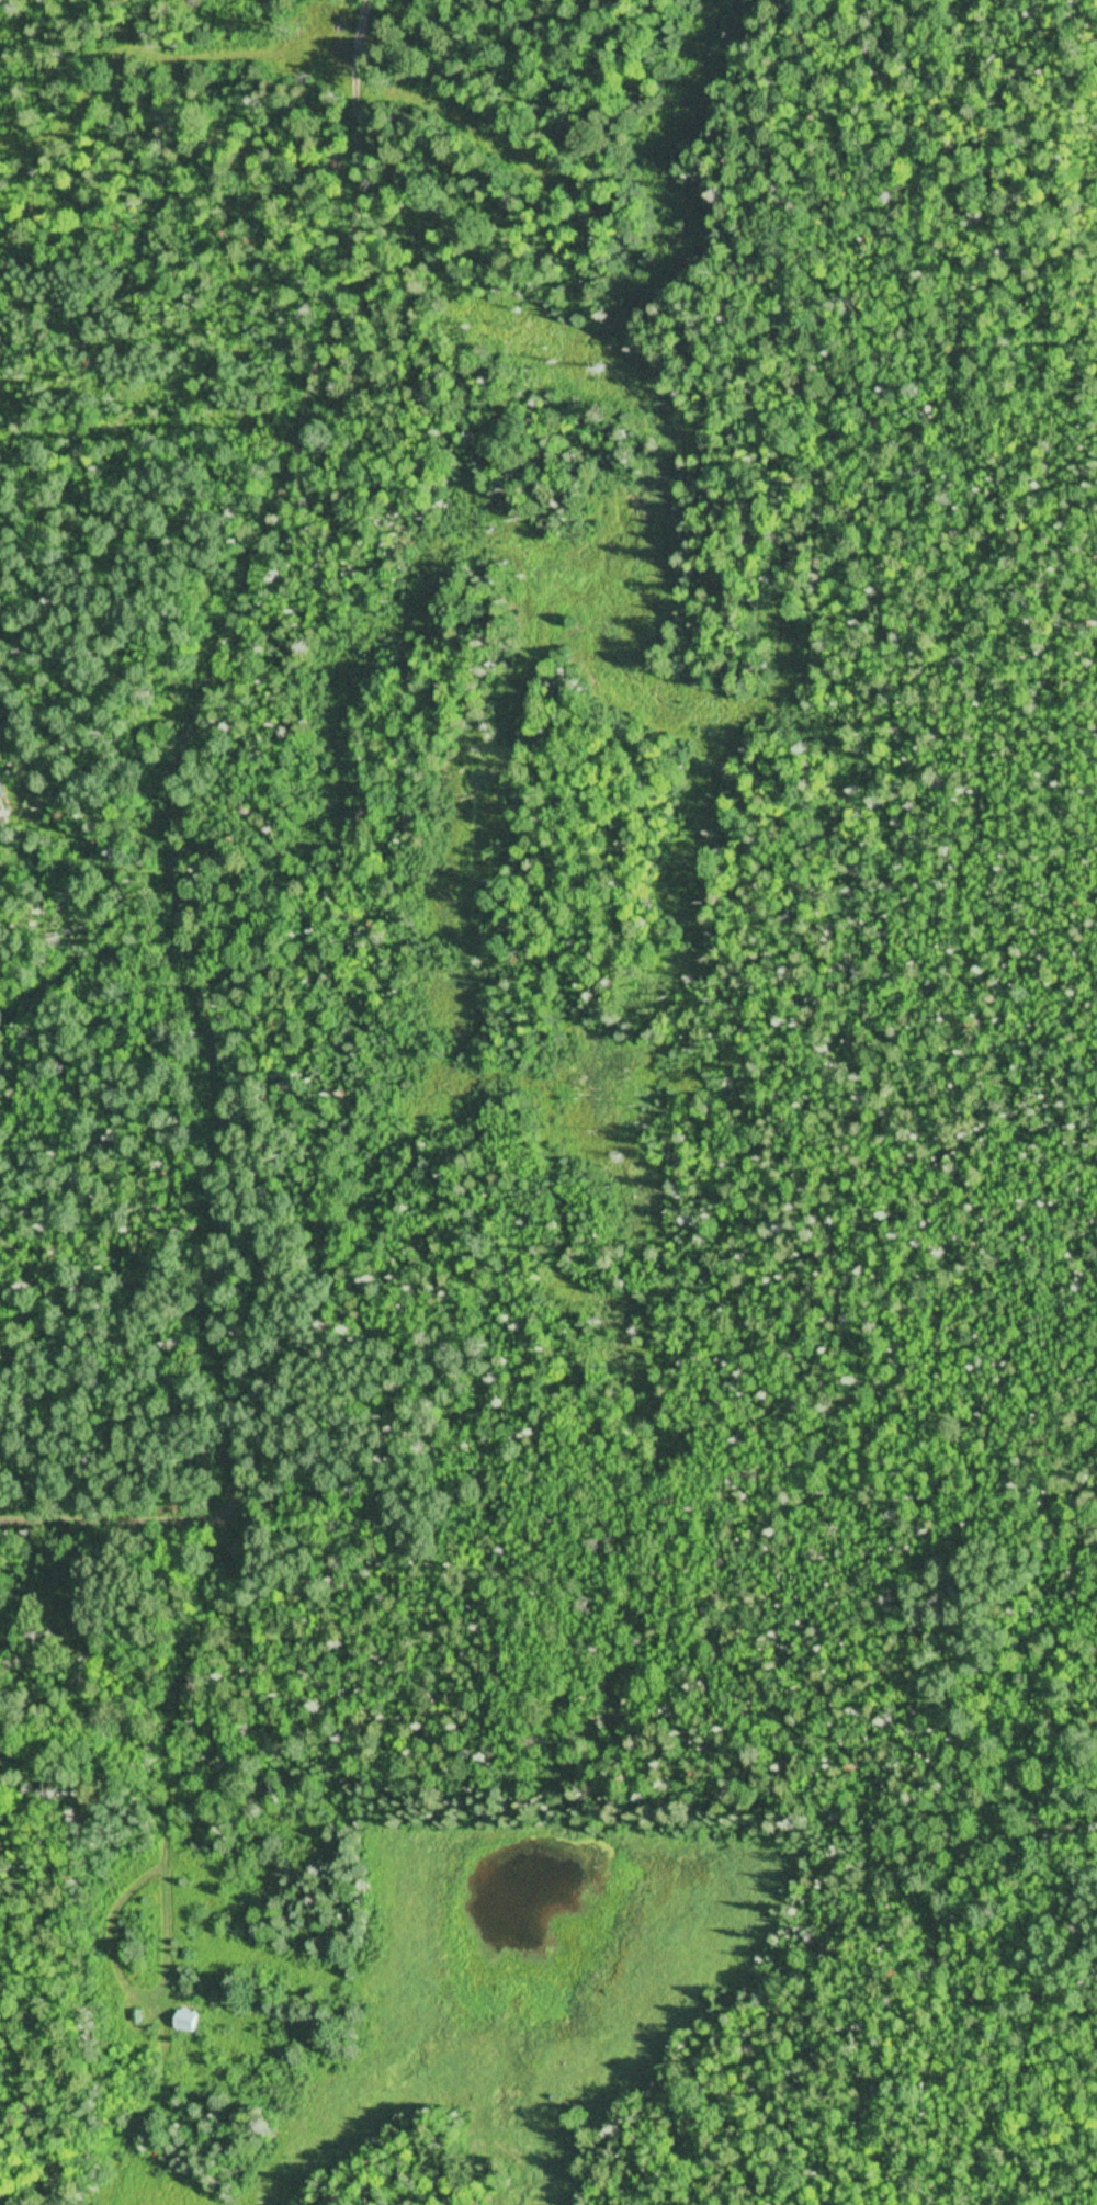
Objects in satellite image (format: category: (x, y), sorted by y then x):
building: (2, 814)
road: (171, 836)

